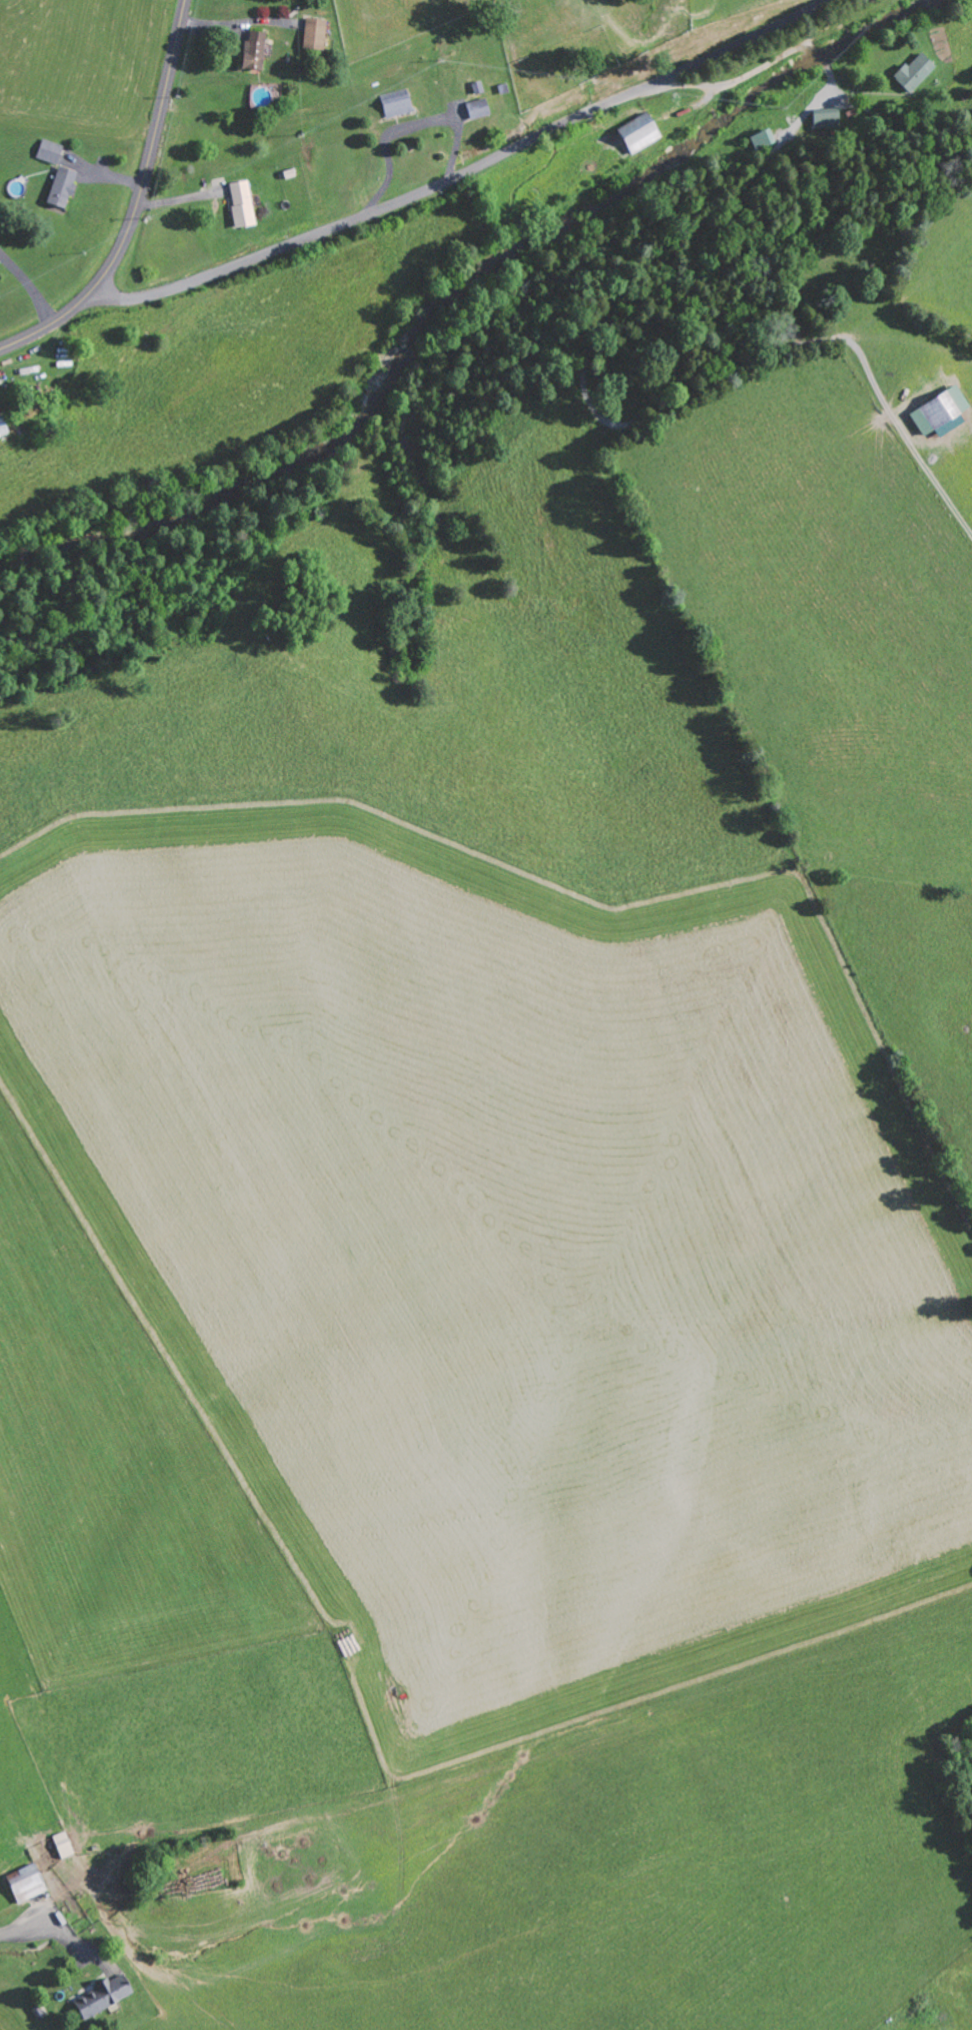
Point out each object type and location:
building: (317, 32)
building: (256, 50)
building: (916, 71)
building: (398, 102)
building: (480, 108)
building: (828, 119)
building: (641, 132)
building: (51, 151)
road: (464, 174)
building: (64, 186)
road: (136, 203)
building: (244, 203)
building: (943, 412)
building: (3, 425)
building: (65, 1844)
building: (28, 1883)
road: (5, 1938)
building: (106, 1995)

